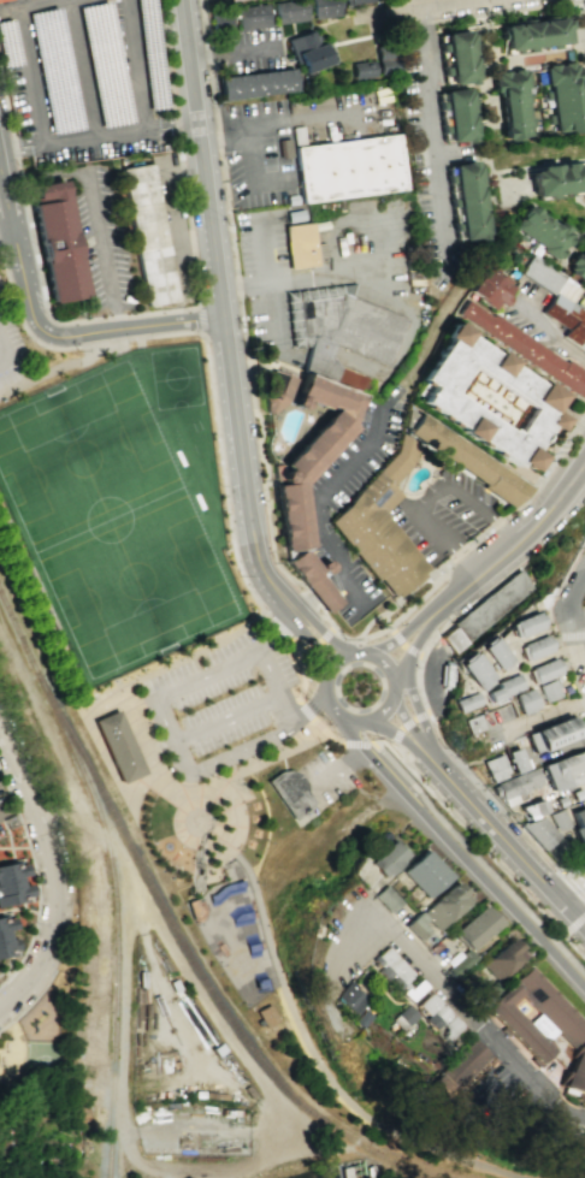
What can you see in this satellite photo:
building: (4, 0)
building: (356, 1)
road: (419, 1)
road: (447, 4)
road: (45, 5)
building: (323, 8)
building: (289, 12)
road: (473, 13)
building: (250, 16)
building: (219, 19)
building: (532, 25)
building: (455, 48)
building: (307, 53)
building: (386, 60)
road: (137, 70)
building: (361, 70)
road: (208, 72)
parking lot: (88, 79)
building: (254, 84)
building: (562, 91)
building: (510, 97)
building: (61, 108)
building: (454, 109)
road: (101, 136)
road: (435, 136)
parking lot: (292, 137)
road: (255, 141)
road: (101, 148)
road: (206, 158)
building: (347, 168)
building: (555, 173)
building: (466, 195)
road: (94, 208)
road: (178, 212)
parking lot: (181, 226)
building: (543, 226)
building: (149, 236)
road: (6, 237)
building: (61, 245)
parking lot: (101, 245)
building: (299, 245)
parking lot: (374, 249)
building: (577, 261)
road: (357, 272)
parking lot: (265, 274)
road: (23, 282)
building: (492, 285)
building: (559, 298)
road: (265, 303)
road: (142, 316)
road: (199, 319)
road: (161, 324)
building: (339, 331)
road: (544, 335)
road: (406, 339)
parking lot: (10, 344)
building: (527, 347)
road: (203, 349)
road: (7, 355)
road: (58, 366)
building: (276, 390)
building: (484, 403)
building: (463, 461)
road: (244, 470)
road: (437, 497)
road: (320, 499)
park: (119, 507)
parking lot: (314, 507)
parking lot: (445, 516)
building: (289, 520)
building: (379, 525)
road: (515, 543)
road: (274, 567)
parking lot: (571, 578)
road: (333, 581)
road: (555, 581)
road: (319, 592)
road: (302, 603)
building: (494, 605)
road: (573, 605)
road: (41, 606)
road: (406, 608)
road: (385, 618)
building: (522, 627)
road: (581, 628)
road: (404, 631)
road: (323, 632)
railway: (19, 633)
road: (279, 633)
road: (282, 633)
road: (421, 633)
road: (569, 637)
road: (581, 638)
building: (454, 640)
road: (311, 641)
road: (402, 643)
road: (317, 645)
building: (532, 649)
road: (199, 650)
road: (361, 651)
building: (491, 656)
road: (337, 659)
road: (246, 661)
road: (389, 664)
road: (301, 669)
road: (402, 670)
building: (540, 671)
building: (472, 673)
building: (447, 674)
road: (571, 676)
road: (130, 677)
building: (501, 688)
road: (397, 689)
building: (546, 691)
road: (326, 698)
building: (522, 702)
parking lot: (221, 704)
building: (461, 704)
road: (415, 708)
road: (306, 709)
road: (312, 709)
road: (389, 711)
road: (229, 717)
road: (407, 722)
road: (359, 724)
building: (468, 724)
road: (409, 727)
road: (323, 729)
road: (437, 729)
building: (549, 735)
road: (176, 738)
road: (401, 738)
road: (354, 745)
building: (118, 746)
road: (248, 747)
road: (277, 750)
road: (392, 751)
road: (282, 758)
building: (514, 760)
building: (492, 766)
road: (247, 770)
road: (339, 770)
road: (401, 775)
building: (562, 775)
parking lot: (326, 779)
park: (185, 780)
building: (515, 785)
building: (290, 791)
parking lot: (5, 803)
building: (532, 810)
road: (66, 819)
building: (559, 819)
road: (266, 824)
road: (492, 828)
building: (579, 828)
building: (538, 830)
parking lot: (0, 833)
road: (486, 851)
road: (468, 852)
road: (131, 856)
building: (386, 857)
road: (459, 858)
building: (424, 871)
road: (54, 878)
road: (36, 880)
building: (13, 884)
road: (572, 884)
road: (571, 894)
building: (385, 898)
building: (444, 904)
road: (572, 916)
railway: (116, 919)
road: (573, 921)
building: (414, 923)
building: (472, 927)
park: (232, 933)
road: (266, 935)
building: (7, 937)
building: (498, 958)
building: (459, 961)
railway: (196, 966)
building: (395, 972)
road: (159, 981)
road: (191, 983)
building: (350, 1001)
road: (454, 1001)
building: (265, 1014)
building: (556, 1016)
building: (403, 1017)
building: (439, 1017)
road: (18, 1034)
park: (39, 1036)
road: (17, 1042)
park: (41, 1058)
building: (463, 1062)
building: (574, 1070)
road: (175, 1078)
parking lot: (500, 1097)
road: (559, 1123)
road: (152, 1125)
road: (383, 1127)
power tower: (583, 1133)
road: (132, 1154)
road: (252, 1162)

